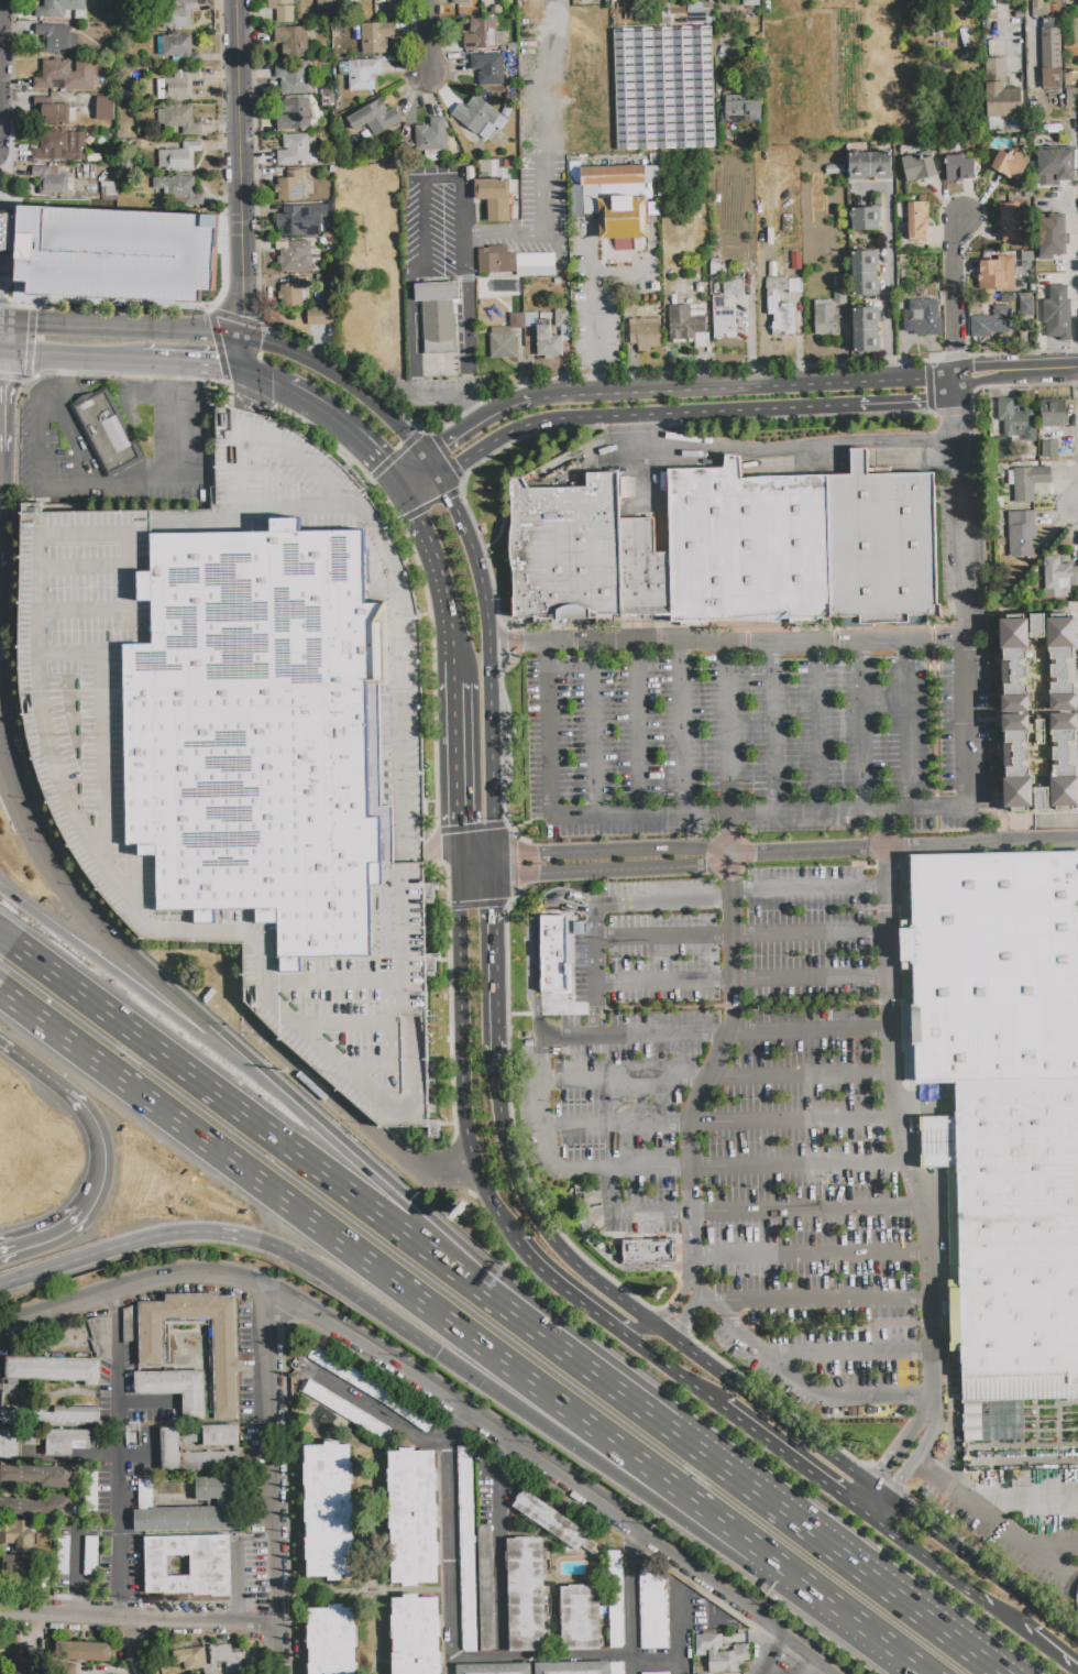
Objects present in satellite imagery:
road: (0, 0)
building: (459, 1)
building: (750, 2)
building: (395, 3)
building: (327, 4)
building: (831, 4)
building: (772, 7)
building: (1077, 7)
building: (58, 8)
building: (698, 8)
building: (1038, 8)
building: (498, 9)
building: (282, 10)
building: (678, 10)
building: (177, 13)
building: (1076, 32)
building: (484, 34)
building: (54, 37)
building: (376, 37)
road: (430, 37)
road: (1028, 39)
building: (291, 42)
building: (176, 43)
building: (512, 46)
building: (1050, 55)
building: (343, 68)
building: (488, 68)
building: (66, 74)
building: (362, 74)
building: (291, 77)
building: (784, 84)
building: (177, 85)
building: (831, 86)
building: (664, 87)
building: (997, 92)
building: (1071, 97)
building: (105, 108)
building: (507, 110)
building: (741, 111)
building: (55, 113)
building: (294, 114)
building: (479, 117)
building: (177, 118)
building: (376, 118)
building: (431, 135)
building: (102, 139)
building: (61, 145)
building: (296, 151)
building: (109, 156)
building: (178, 156)
building: (97, 158)
building: (1010, 164)
building: (870, 165)
building: (1055, 166)
road: (239, 168)
building: (917, 168)
building: (959, 168)
building: (53, 180)
road: (438, 182)
building: (176, 186)
building: (290, 186)
building: (109, 190)
building: (495, 198)
building: (616, 201)
building: (866, 219)
building: (298, 221)
building: (917, 221)
parking lot: (438, 222)
building: (1010, 222)
building: (10, 227)
road: (542, 233)
building: (1052, 237)
building: (443, 238)
building: (118, 250)
parking garage: (118, 250)
building: (1027, 256)
building: (296, 258)
road: (3, 259)
building: (496, 260)
building: (794, 261)
building: (714, 266)
building: (536, 267)
building: (865, 274)
building: (997, 274)
road: (621, 275)
road: (761, 281)
road: (1075, 282)
building: (777, 284)
building: (1019, 284)
building: (794, 286)
road: (887, 286)
building: (702, 287)
building: (736, 287)
building: (1032, 287)
building: (291, 292)
parking lot: (603, 294)
building: (839, 295)
building: (1004, 299)
building: (1052, 304)
road: (957, 307)
building: (1026, 307)
road: (594, 310)
building: (438, 315)
building: (320, 316)
building: (780, 316)
traffic signals: (242, 317)
building: (561, 317)
building: (722, 318)
building: (924, 318)
building: (516, 320)
building: (825, 320)
building: (991, 322)
building: (687, 326)
road: (121, 329)
building: (866, 330)
building: (363, 332)
building: (645, 333)
road: (415, 335)
road: (469, 337)
building: (548, 342)
building: (503, 343)
traffic signals: (263, 344)
road: (245, 357)
road: (31, 359)
road: (103, 361)
road: (158, 363)
road: (212, 363)
traffic signals: (218, 364)
road: (1049, 368)
road: (176, 371)
road: (989, 371)
road: (63, 381)
road: (266, 383)
road: (345, 383)
road: (989, 383)
road: (1077, 385)
road: (780, 389)
road: (249, 393)
road: (450, 394)
traffic signals: (250, 400)
road: (909, 404)
road: (507, 411)
road: (640, 417)
building: (1053, 417)
building: (1008, 426)
building: (105, 433)
road: (37, 434)
road: (349, 434)
road: (76, 442)
traffic signals: (448, 447)
road: (788, 449)
building: (1049, 449)
traffic signals: (380, 463)
road: (432, 471)
road: (414, 477)
road: (156, 481)
building: (1027, 482)
road: (419, 485)
road: (1075, 495)
traffic signals: (450, 499)
road: (960, 518)
building: (1020, 533)
building: (882, 544)
building: (747, 545)
building: (565, 549)
building: (642, 570)
building: (1058, 578)
road: (443, 582)
road: (483, 591)
road: (727, 648)
building: (1012, 719)
parking lot: (746, 723)
road: (906, 727)
road: (683, 729)
road: (861, 729)
road: (637, 730)
road: (817, 730)
building: (1039, 731)
road: (593, 732)
road: (773, 732)
road: (727, 733)
building: (249, 744)
road: (457, 766)
road: (492, 785)
road: (755, 816)
traffic signals: (458, 825)
road: (903, 847)
traffic signals: (429, 850)
road: (440, 850)
road: (656, 851)
road: (475, 855)
road: (537, 857)
traffic signals: (516, 858)
road: (458, 865)
road: (494, 869)
road: (614, 873)
road: (476, 879)
road: (810, 889)
road: (79, 904)
road: (596, 905)
traffic signals: (496, 907)
road: (811, 934)
road: (664, 941)
road: (536, 944)
building: (553, 950)
road: (105, 963)
road: (497, 963)
building: (992, 971)
road: (743, 977)
road: (716, 1031)
road: (721, 1050)
road: (34, 1070)
road: (715, 1076)
parking lot: (792, 1079)
road: (463, 1082)
road: (199, 1085)
road: (333, 1096)
road: (539, 1106)
road: (893, 1108)
road: (719, 1120)
road: (506, 1141)
road: (100, 1148)
road: (349, 1156)
road: (441, 1164)
road: (734, 1166)
road: (748, 1210)
building: (1014, 1225)
road: (327, 1235)
road: (47, 1239)
road: (255, 1243)
building: (647, 1250)
road: (812, 1256)
road: (436, 1259)
road: (614, 1265)
road: (131, 1282)
road: (572, 1299)
road: (816, 1300)
road: (671, 1311)
road: (674, 1328)
road: (849, 1354)
building: (224, 1360)
road: (668, 1368)
building: (53, 1369)
building: (371, 1388)
road: (807, 1388)
building: (175, 1389)
road: (141, 1400)
building: (348, 1411)
building: (51, 1413)
road: (378, 1414)
road: (923, 1416)
building: (189, 1435)
building: (220, 1435)
road: (804, 1438)
building: (66, 1441)
building: (9, 1444)
building: (170, 1449)
road: (531, 1453)
road: (117, 1455)
road: (274, 1455)
building: (210, 1460)
road: (912, 1463)
road: (796, 1464)
road: (883, 1471)
building: (36, 1476)
road: (735, 1480)
road: (941, 1481)
building: (95, 1487)
road: (643, 1495)
road: (1023, 1499)
building: (34, 1507)
building: (191, 1507)
building: (329, 1511)
building: (414, 1517)
building: (553, 1522)
road: (495, 1533)
building: (16, 1535)
road: (734, 1536)
road: (1020, 1542)
building: (466, 1549)
road: (1054, 1549)
building: (209, 1565)
building: (16, 1566)
building: (84, 1573)
road: (945, 1573)
building: (485, 1587)
building: (526, 1595)
building: (614, 1600)
road: (636, 1605)
building: (654, 1610)
building: (580, 1617)
road: (139, 1618)
building: (416, 1634)
road: (868, 1634)
building: (332, 1640)
road: (682, 1640)
road: (454, 1643)
road: (132, 1645)
road: (1045, 1645)
road: (805, 1648)
road: (278, 1649)
building: (85, 1651)
road: (773, 1653)
building: (721, 1654)
building: (189, 1659)
building: (25, 1661)
building: (572, 1667)
building: (616, 1667)
building: (67, 1668)
building: (494, 1668)
road: (1075, 1668)
road: (824, 1670)
road: (834, 1670)
building: (656, 1673)

